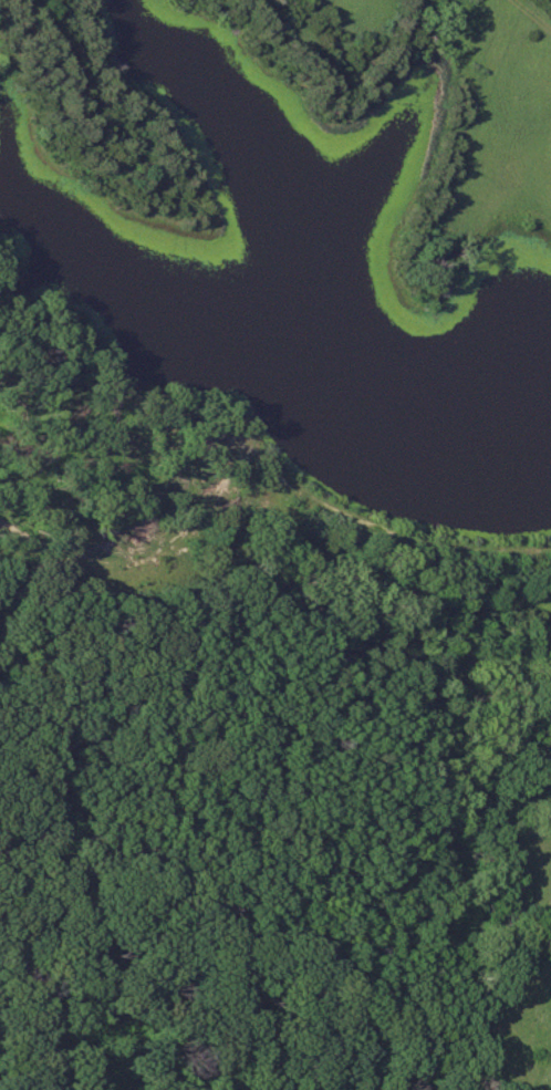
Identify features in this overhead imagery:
road: (299, 501)
road: (373, 588)

